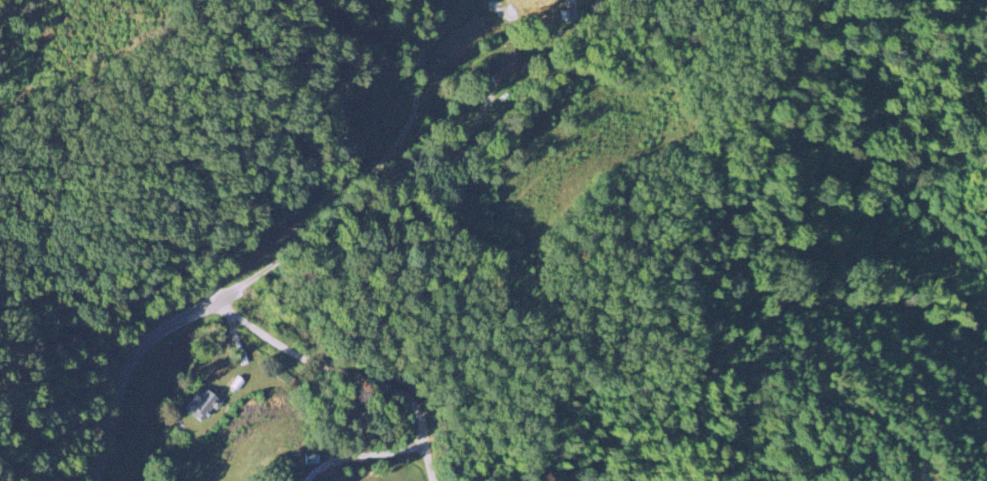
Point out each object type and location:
building: (503, 67)
road: (282, 253)
road: (345, 375)
building: (203, 405)
road: (364, 455)
building: (310, 459)

